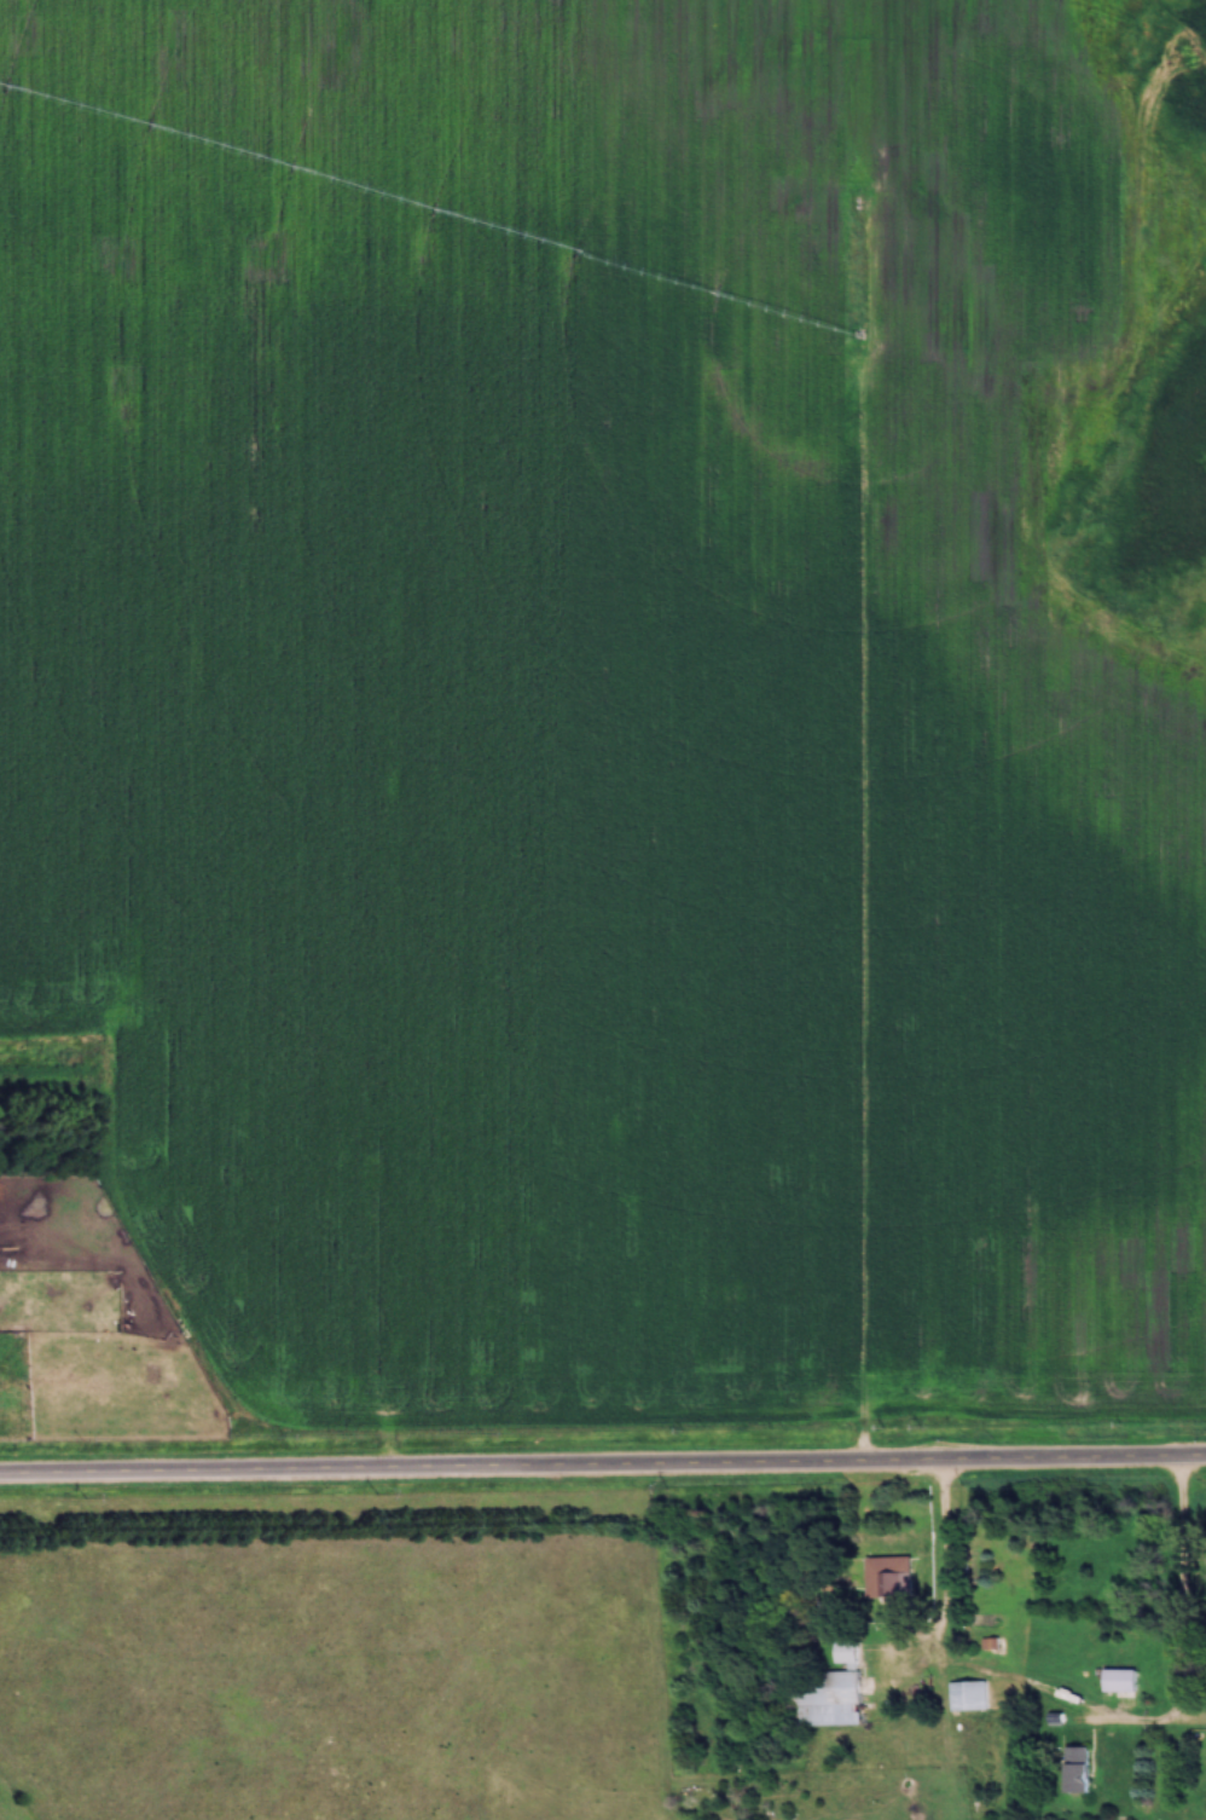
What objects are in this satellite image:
road: (602, 1461)
building: (888, 1579)
road: (1187, 1594)
building: (846, 1652)
road: (976, 1677)
building: (1121, 1681)
building: (970, 1697)
building: (825, 1699)
building: (1077, 1770)
airport: (15, 1802)

